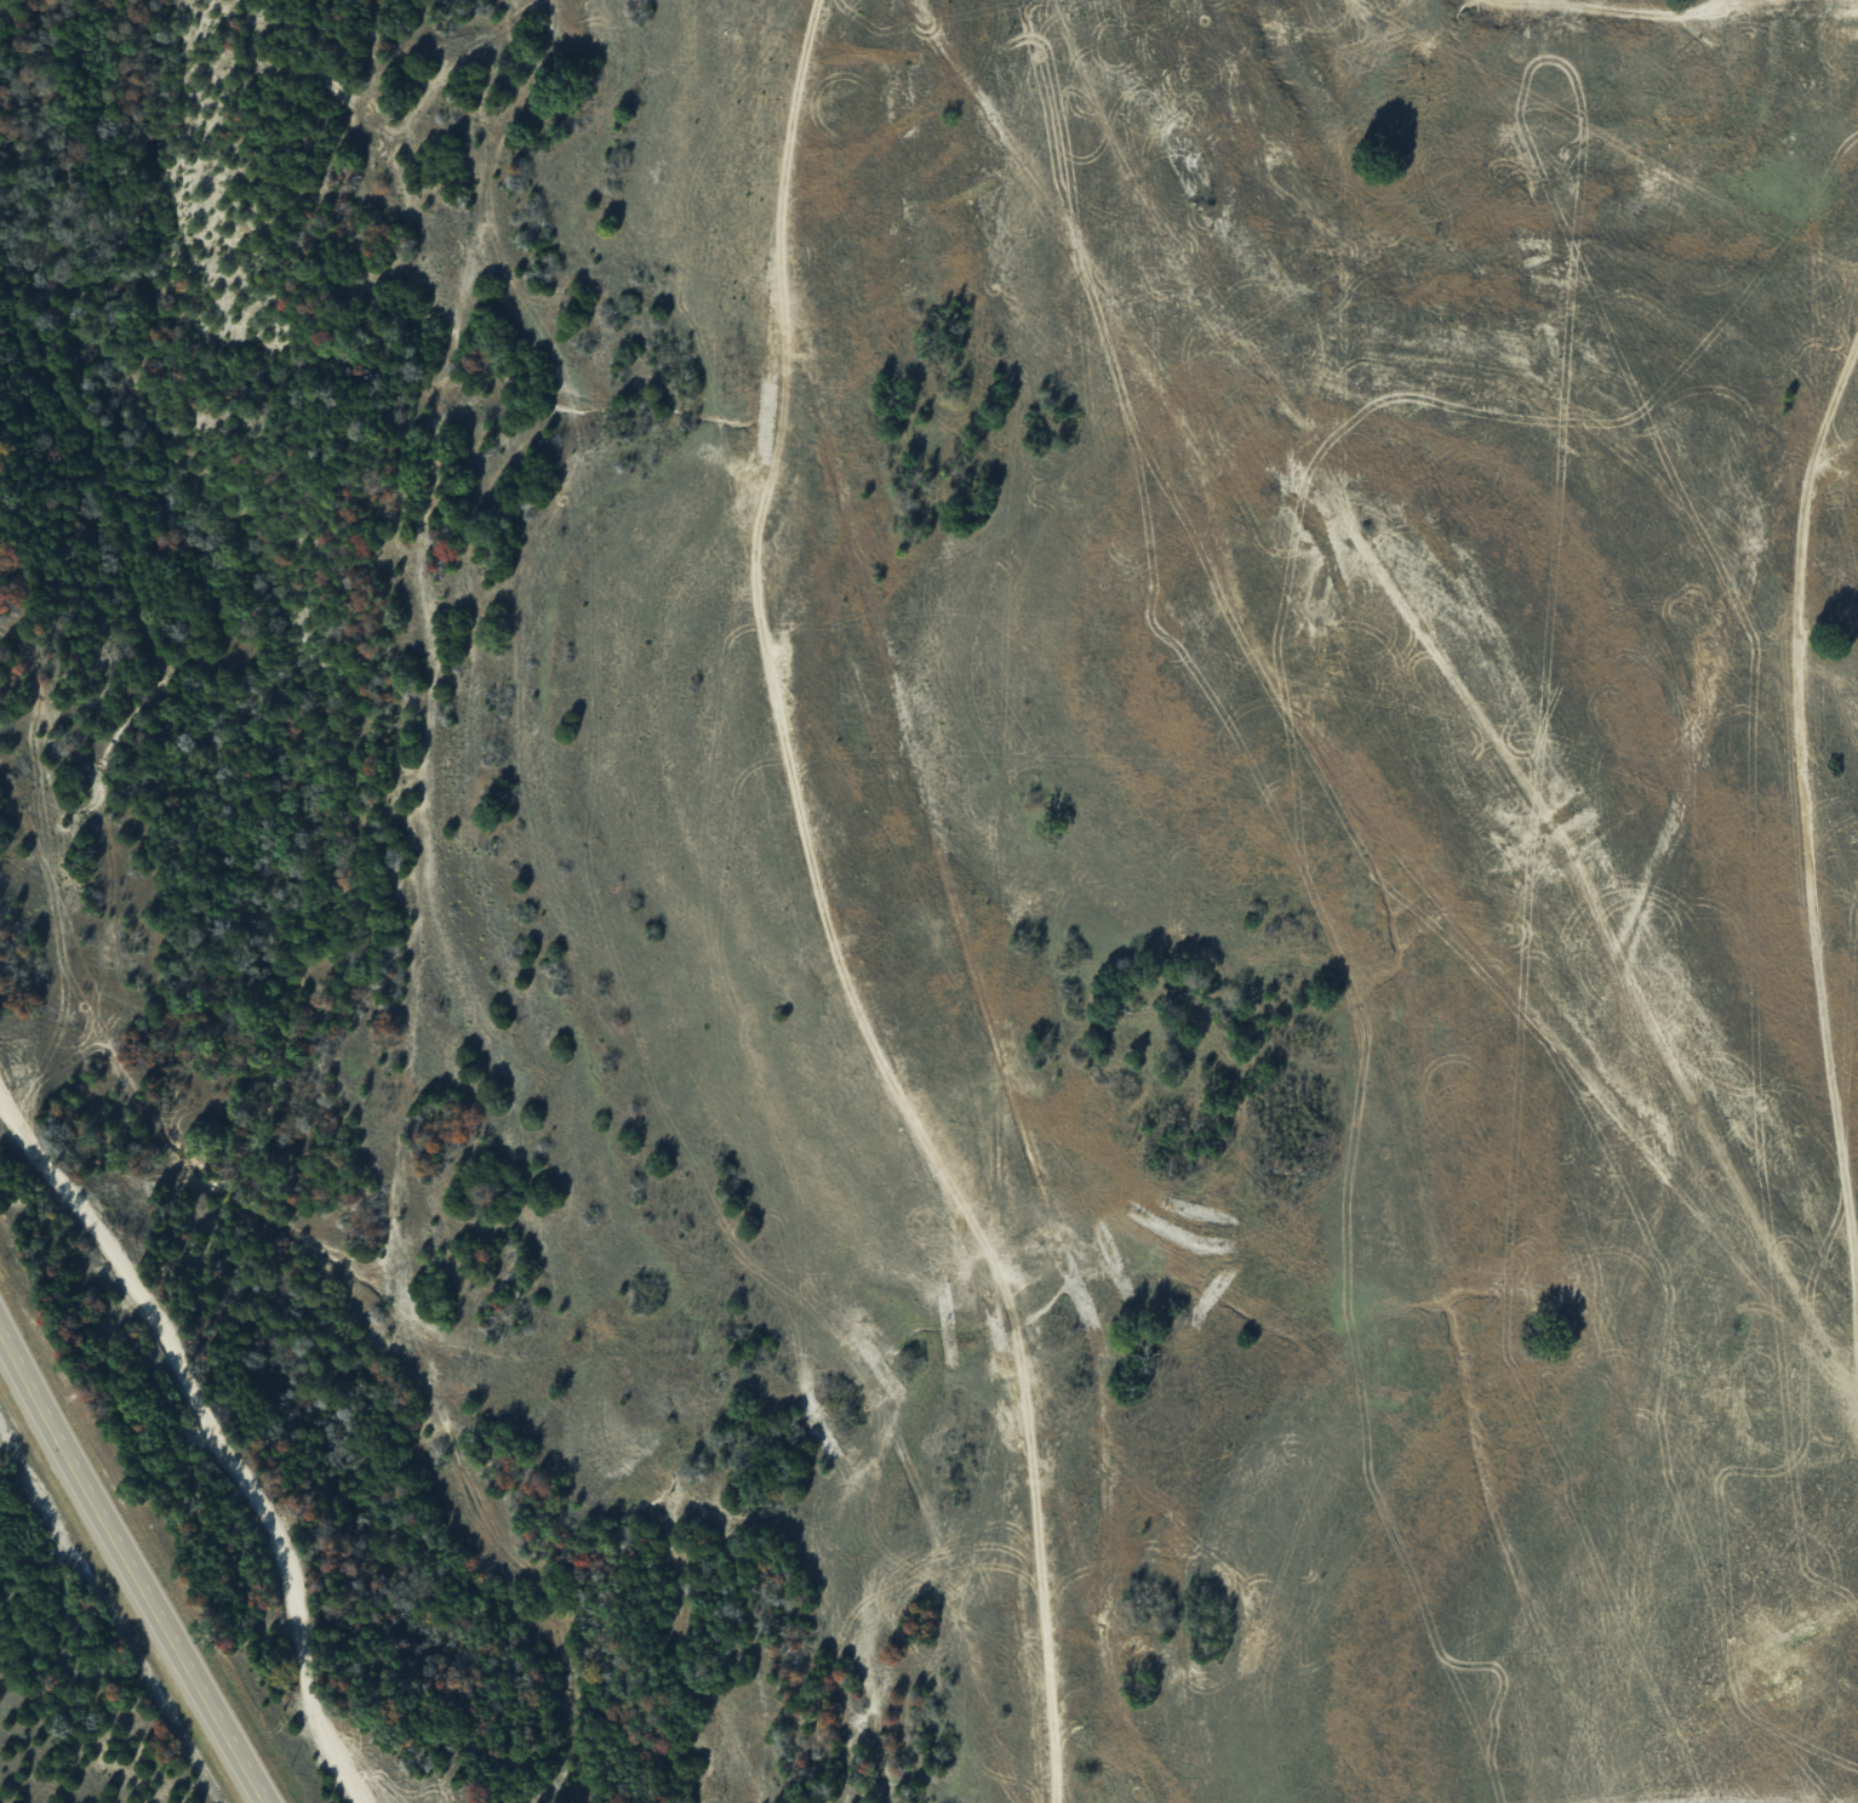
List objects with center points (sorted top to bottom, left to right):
road: (216, 1433)
road: (128, 1573)

